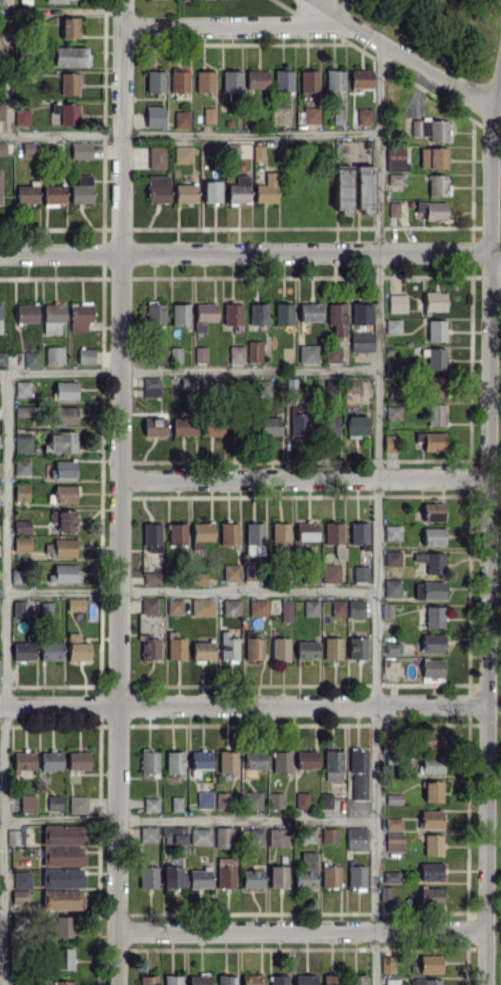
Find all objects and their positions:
building: (62, 0)
building: (0, 4)
road: (333, 7)
road: (343, 10)
road: (227, 22)
building: (69, 27)
road: (401, 52)
building: (70, 56)
road: (10, 67)
building: (256, 78)
building: (360, 78)
building: (283, 80)
building: (308, 80)
building: (333, 80)
building: (155, 81)
building: (179, 81)
building: (204, 81)
building: (231, 81)
building: (68, 83)
building: (1, 111)
building: (208, 114)
building: (363, 115)
building: (21, 116)
building: (154, 116)
building: (182, 119)
building: (433, 129)
road: (189, 133)
building: (2, 147)
building: (29, 147)
road: (378, 147)
building: (80, 149)
building: (257, 152)
building: (182, 153)
building: (156, 157)
building: (433, 157)
building: (395, 158)
road: (490, 167)
building: (394, 178)
building: (0, 185)
building: (436, 185)
building: (157, 188)
building: (342, 188)
building: (363, 188)
building: (81, 189)
building: (238, 189)
building: (266, 189)
building: (211, 191)
building: (53, 193)
building: (185, 193)
building: (26, 194)
building: (393, 208)
building: (432, 210)
road: (243, 252)
road: (494, 253)
building: (434, 301)
building: (396, 303)
building: (309, 311)
building: (26, 312)
building: (154, 313)
building: (232, 313)
building: (257, 313)
building: (283, 313)
building: (360, 313)
building: (179, 314)
building: (79, 315)
building: (204, 315)
building: (0, 317)
building: (52, 317)
building: (336, 317)
building: (392, 325)
building: (436, 330)
building: (361, 341)
building: (253, 351)
building: (175, 353)
building: (307, 353)
building: (332, 353)
building: (200, 354)
building: (53, 355)
building: (85, 355)
building: (156, 355)
building: (2, 357)
building: (31, 358)
building: (435, 358)
road: (487, 366)
road: (189, 369)
building: (188, 382)
building: (434, 386)
building: (151, 387)
building: (22, 388)
building: (263, 388)
building: (64, 390)
building: (24, 410)
building: (392, 412)
building: (64, 414)
building: (435, 414)
building: (329, 421)
building: (298, 423)
building: (240, 425)
building: (356, 425)
building: (154, 426)
building: (182, 426)
building: (269, 426)
building: (212, 427)
building: (431, 440)
building: (62, 441)
building: (390, 442)
building: (22, 443)
building: (21, 467)
building: (63, 468)
road: (304, 478)
building: (21, 492)
road: (121, 492)
building: (65, 493)
building: (432, 511)
building: (64, 519)
building: (21, 526)
building: (306, 530)
building: (202, 531)
building: (332, 532)
building: (391, 532)
building: (176, 533)
building: (228, 533)
building: (280, 533)
building: (358, 534)
building: (432, 536)
building: (152, 537)
building: (253, 538)
building: (21, 544)
building: (64, 547)
building: (392, 557)
building: (431, 561)
building: (231, 572)
building: (64, 573)
building: (330, 573)
building: (360, 573)
building: (16, 575)
building: (150, 577)
building: (391, 587)
road: (62, 588)
road: (248, 590)
building: (428, 590)
road: (486, 591)
building: (74, 604)
building: (148, 605)
building: (174, 606)
building: (202, 606)
building: (18, 607)
building: (231, 607)
building: (257, 607)
building: (337, 607)
building: (310, 608)
building: (354, 608)
building: (285, 610)
building: (434, 616)
road: (375, 618)
building: (432, 643)
building: (252, 645)
building: (175, 646)
building: (50, 647)
building: (76, 647)
building: (149, 647)
building: (227, 647)
building: (279, 647)
building: (332, 647)
building: (356, 647)
building: (391, 647)
building: (23, 649)
building: (306, 649)
building: (202, 650)
building: (431, 667)
road: (4, 678)
road: (243, 703)
building: (431, 738)
building: (50, 759)
building: (78, 759)
building: (253, 759)
building: (306, 759)
building: (23, 760)
building: (200, 760)
building: (149, 761)
building: (174, 761)
building: (227, 761)
building: (281, 761)
building: (332, 764)
building: (431, 764)
building: (357, 774)
building: (432, 791)
building: (392, 798)
building: (204, 799)
building: (222, 799)
building: (325, 799)
building: (251, 800)
building: (275, 800)
building: (301, 800)
building: (54, 802)
building: (27, 803)
building: (77, 803)
building: (176, 803)
building: (150, 804)
road: (486, 816)
building: (431, 819)
road: (188, 820)
building: (392, 823)
building: (62, 834)
building: (147, 834)
building: (174, 834)
building: (307, 835)
building: (329, 835)
building: (15, 836)
building: (199, 836)
building: (256, 836)
building: (277, 836)
building: (223, 837)
building: (356, 838)
building: (394, 841)
building: (432, 844)
building: (62, 855)
building: (306, 871)
building: (430, 871)
building: (225, 872)
building: (356, 875)
building: (148, 876)
building: (172, 876)
building: (277, 876)
building: (330, 876)
building: (390, 876)
building: (62, 877)
building: (199, 878)
building: (252, 878)
building: (21, 879)
building: (385, 893)
building: (19, 896)
building: (430, 896)
building: (62, 899)
building: (19, 921)
building: (62, 926)
road: (300, 930)
road: (484, 957)
building: (61, 958)
building: (429, 963)
building: (387, 964)
building: (172, 979)
building: (198, 979)
building: (252, 979)
building: (278, 979)
building: (305, 979)
building: (328, 979)
building: (356, 979)
building: (147, 980)
building: (225, 980)
building: (391, 981)
building: (425, 981)
building: (63, 982)

